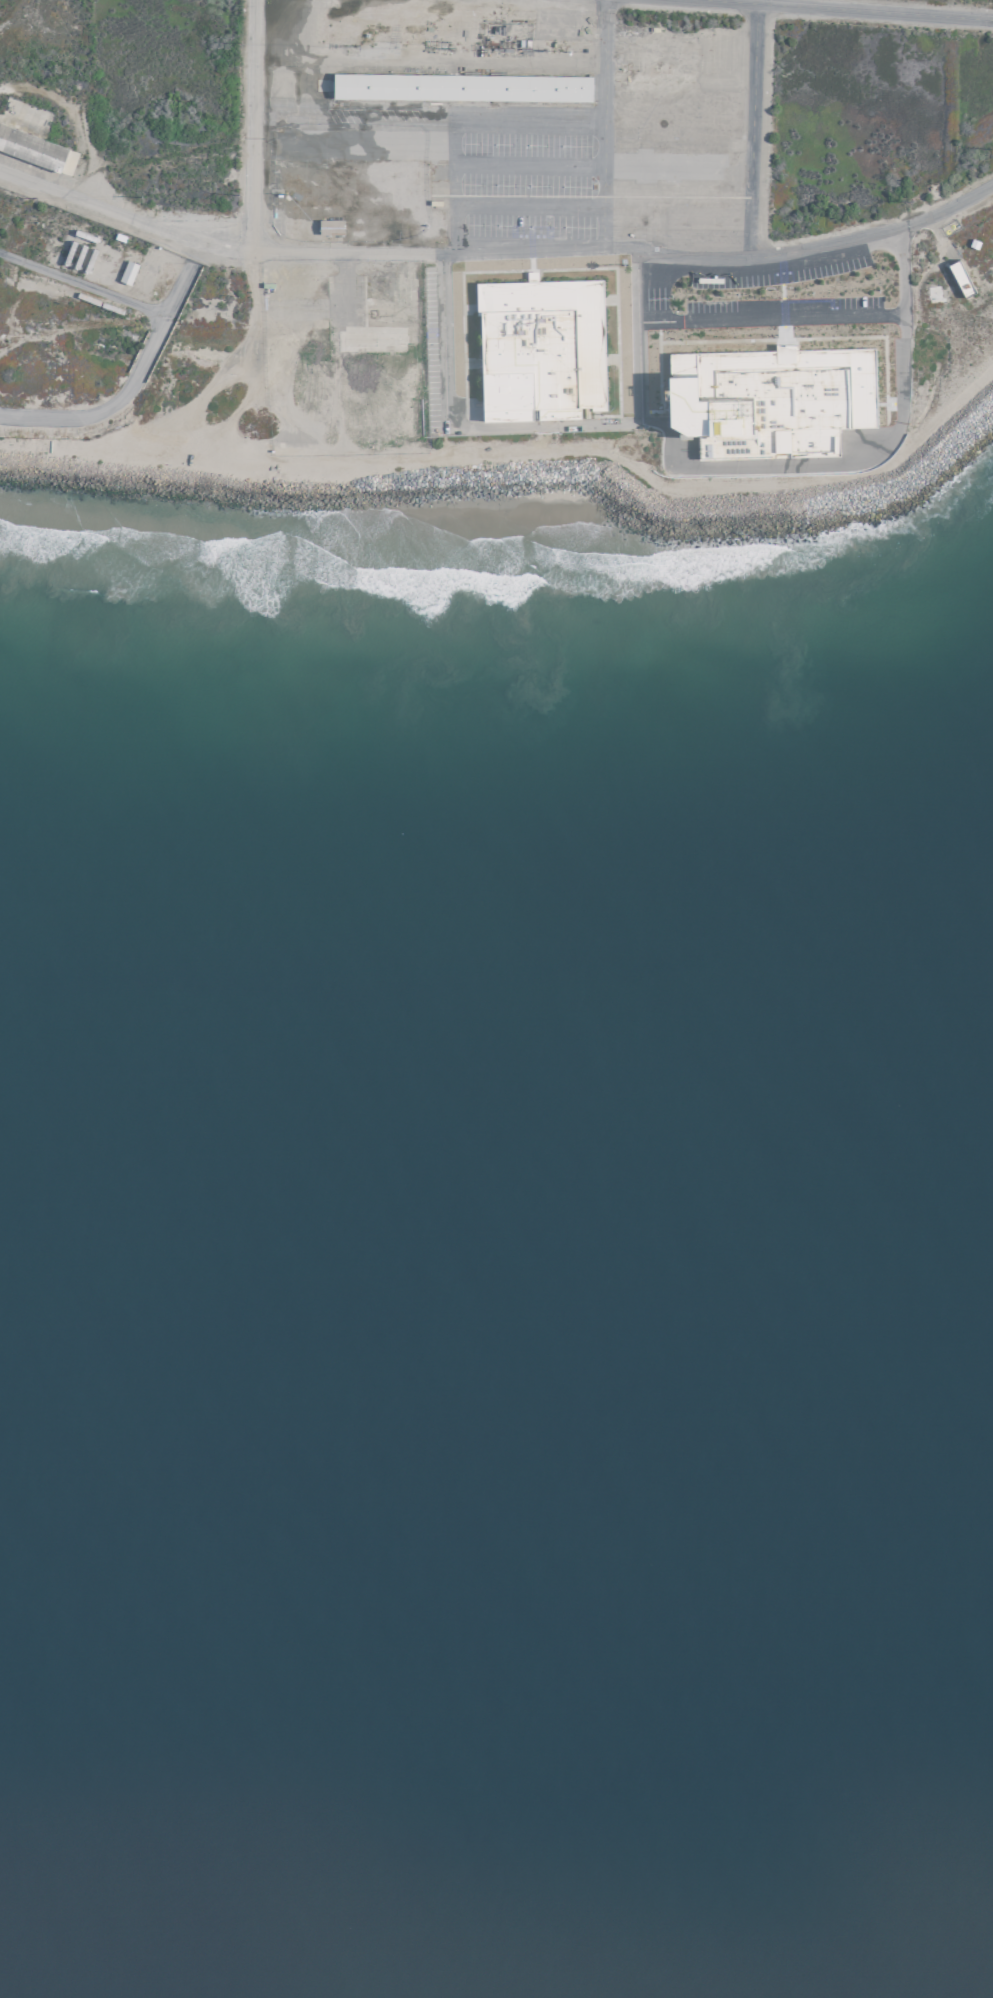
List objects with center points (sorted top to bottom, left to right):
road: (835, 10)
building: (460, 85)
road: (391, 110)
road: (462, 120)
road: (248, 123)
road: (602, 127)
road: (750, 131)
building: (30, 147)
road: (526, 166)
road: (526, 207)
road: (496, 254)
building: (126, 271)
building: (959, 277)
road: (181, 279)
road: (82, 287)
road: (732, 317)
airport: (479, 324)
building: (539, 347)
road: (636, 370)
road: (105, 406)
road: (685, 469)

